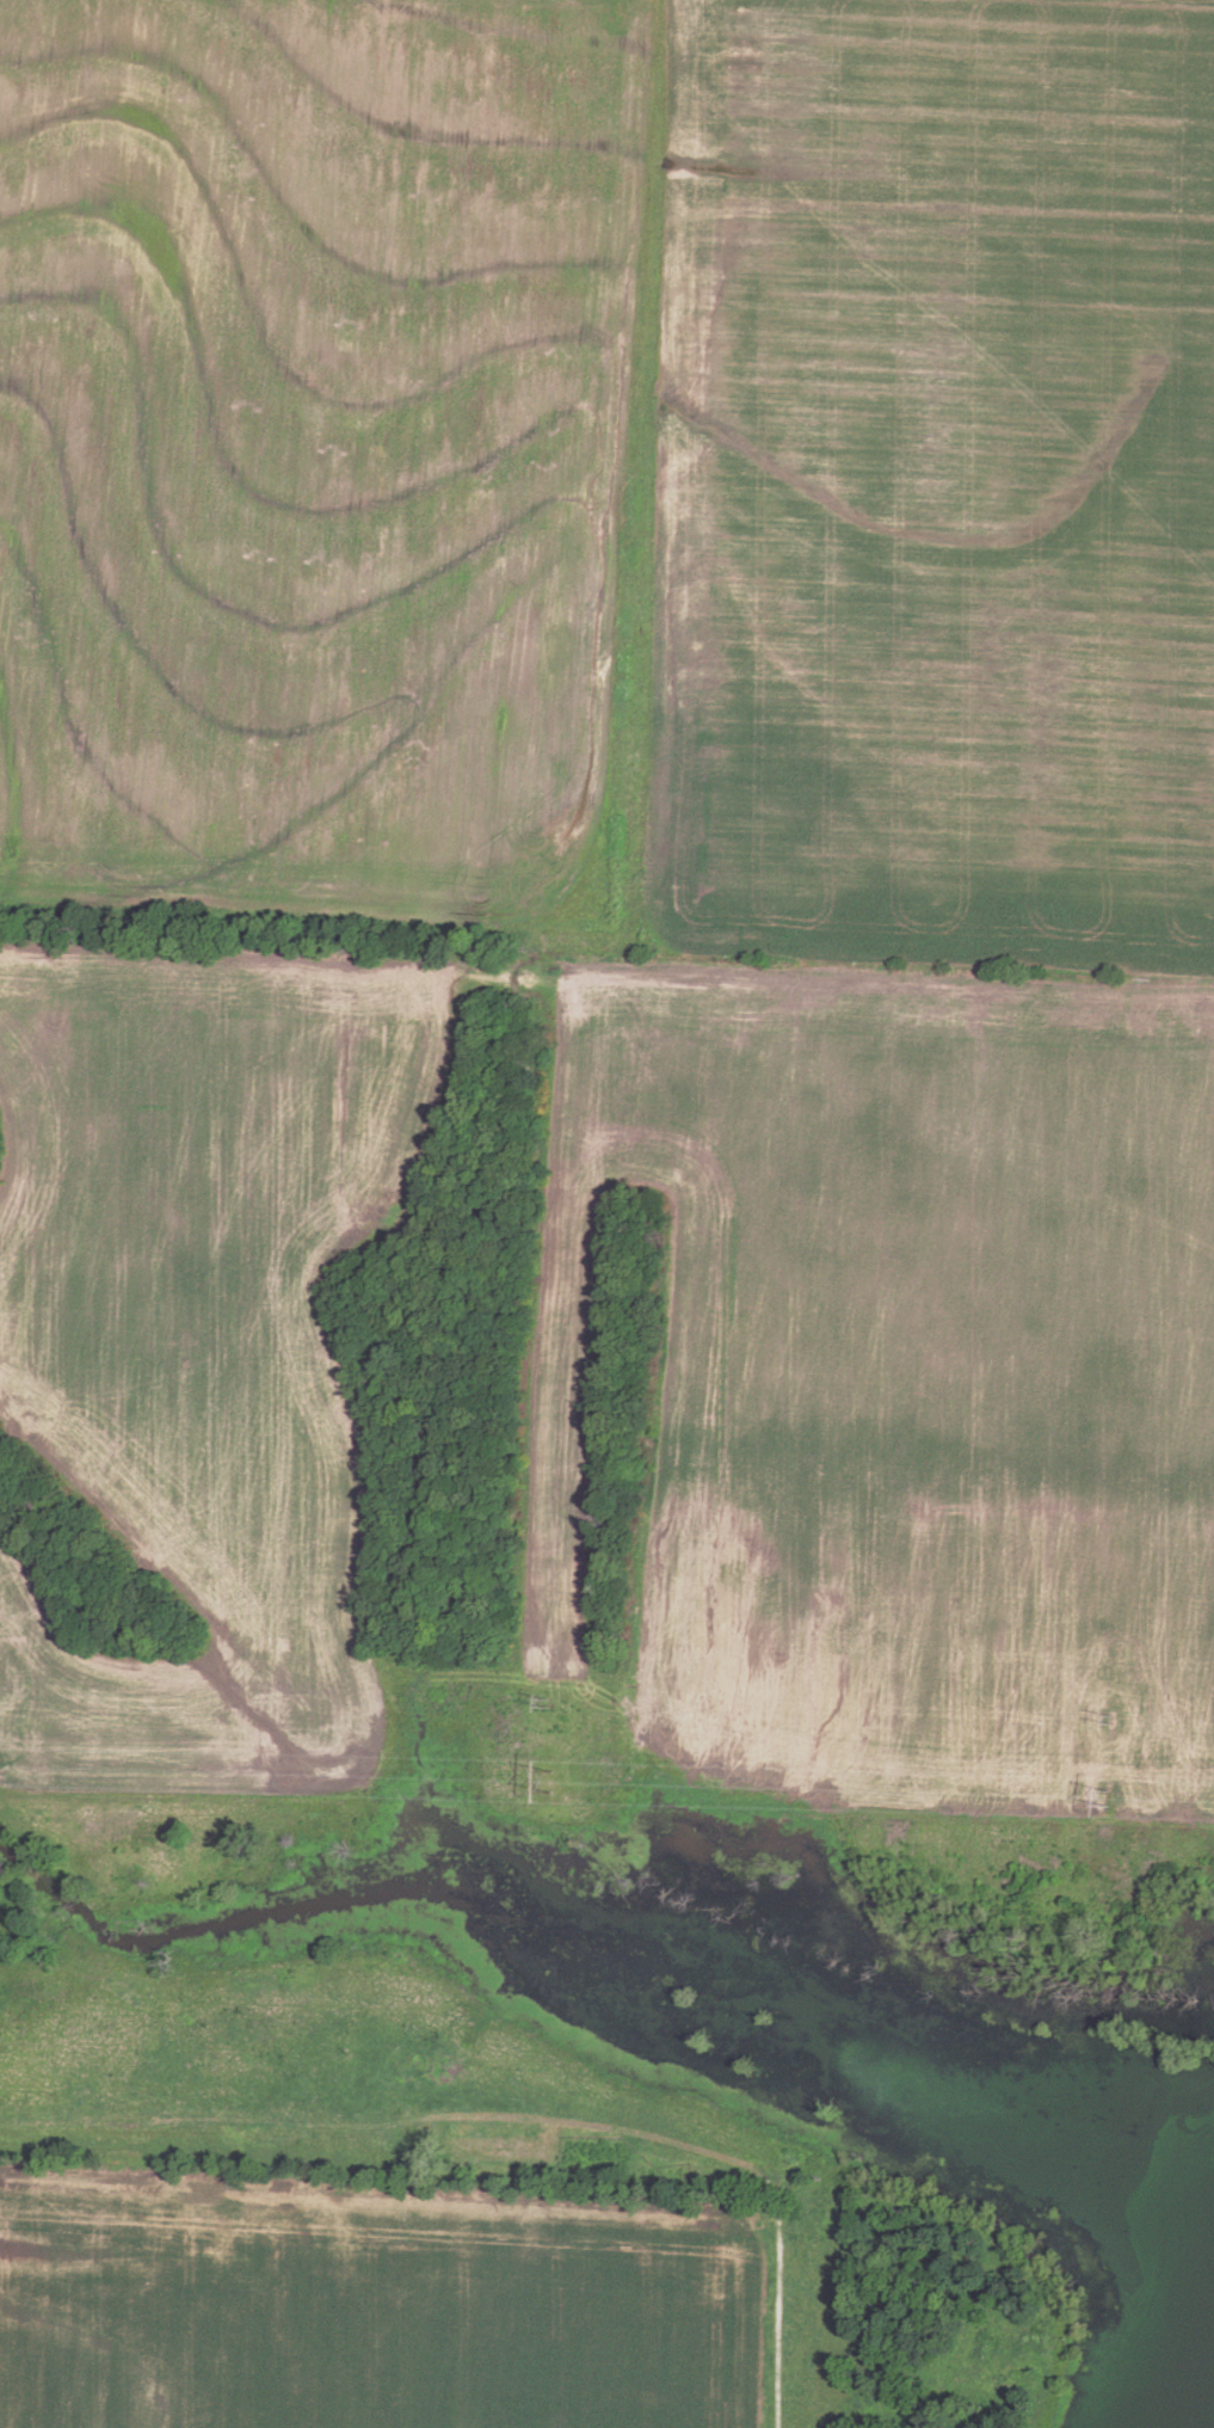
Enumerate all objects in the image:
power tower: (550, 1696)
power tower: (1113, 1716)
power tower: (549, 1778)
power tower: (1110, 1797)

